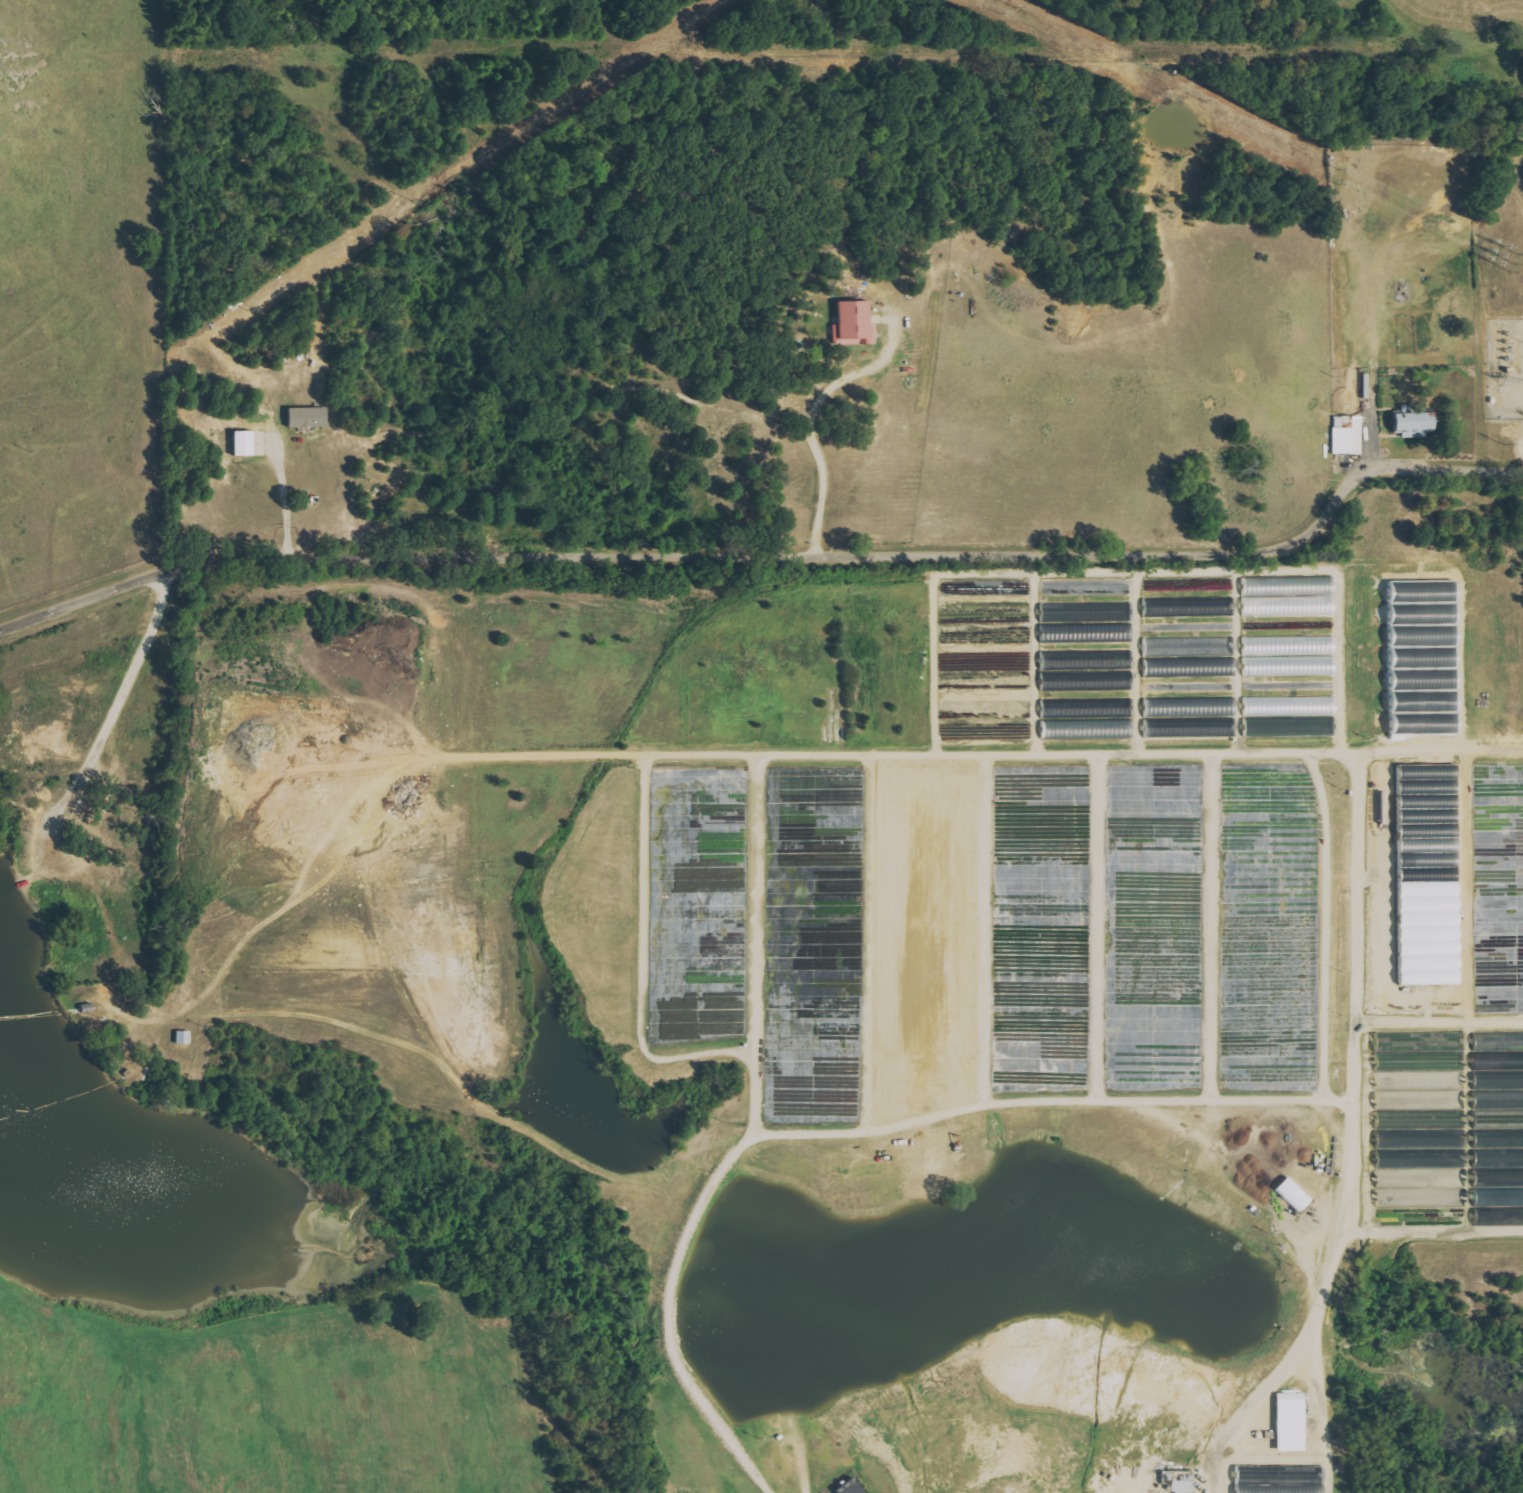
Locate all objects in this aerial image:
power tower: (1138, 71)
power tower: (565, 102)
power tower: (1339, 170)
power tower: (409, 201)
power tower: (1506, 251)
power tower: (244, 312)
building: (858, 324)
power tower: (1507, 350)
power tower: (1507, 380)
road: (811, 417)
building: (311, 418)
building: (1418, 424)
building: (1350, 435)
building: (248, 443)
power tower: (1500, 446)
power tower: (27, 451)
road: (283, 494)
road: (860, 552)
building: (1317, 585)
building: (1278, 598)
road: (83, 600)
building: (1191, 608)
building: (1281, 653)
building: (1193, 658)
building: (1429, 658)
building: (1292, 716)
building: (1193, 718)
building: (1116, 729)
building: (1071, 730)
road: (65, 800)
building: (1435, 870)
building: (186, 1038)
building: (1498, 1043)
building: (1396, 1050)
building: (1395, 1082)
building: (1395, 1109)
building: (1395, 1139)
road: (560, 1149)
building: (1294, 1423)
building: (1181, 1482)
building: (1272, 1482)
building: (856, 1487)

